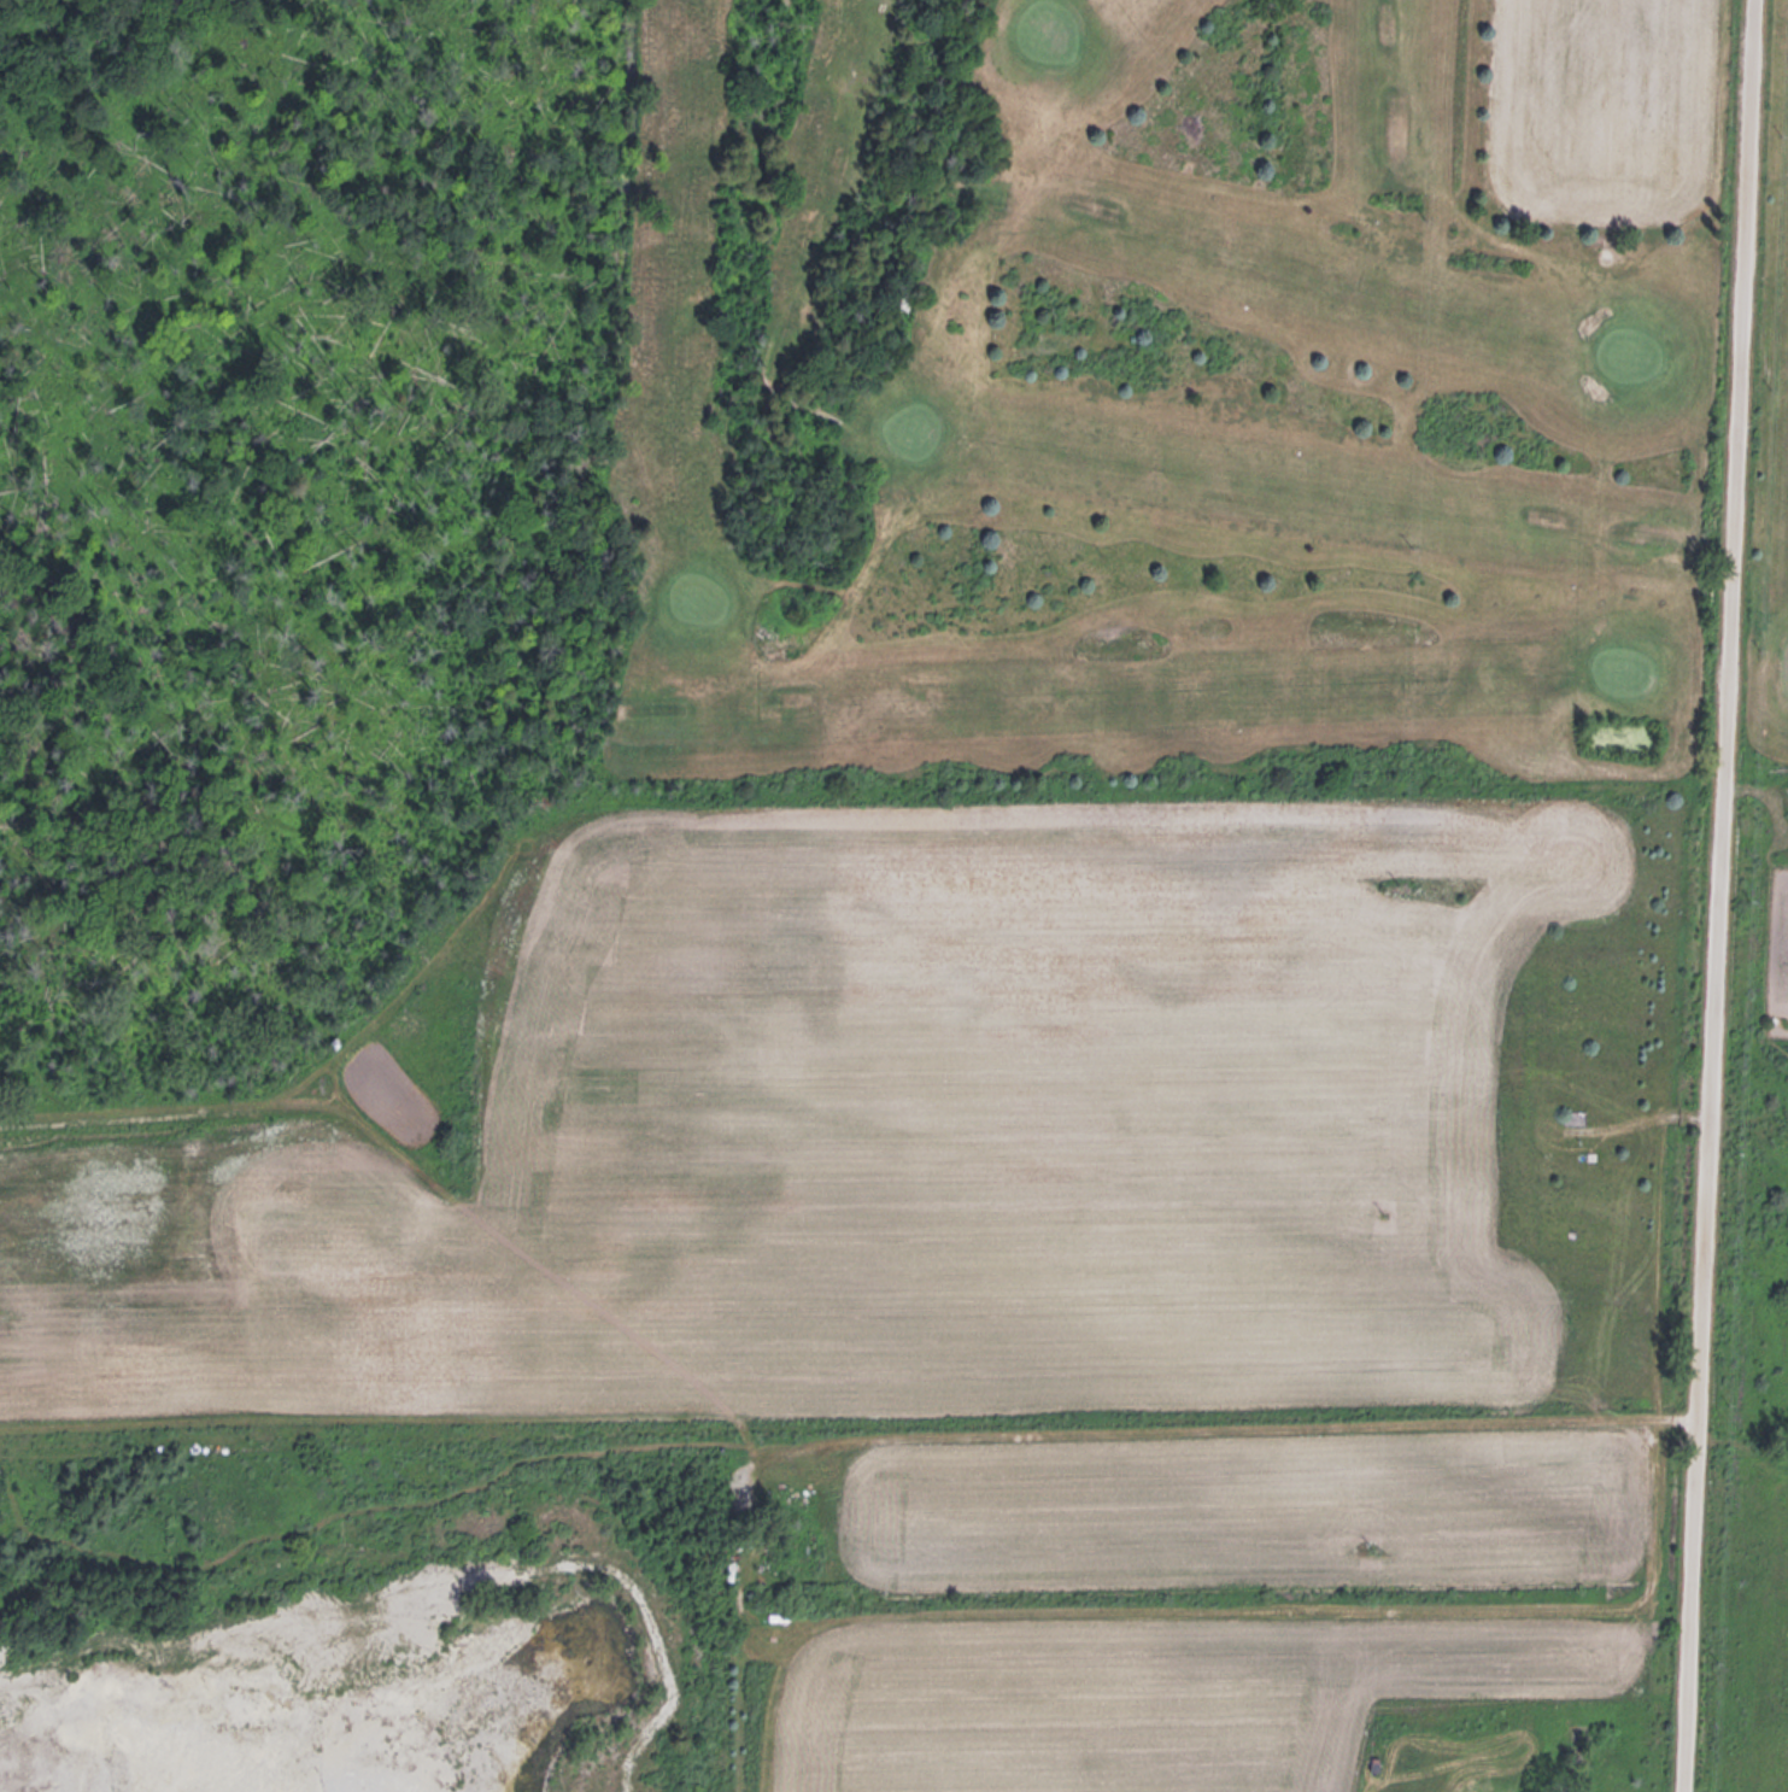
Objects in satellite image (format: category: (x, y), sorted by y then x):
park: (1178, 399)
road: (1714, 895)
road: (1210, 1433)

